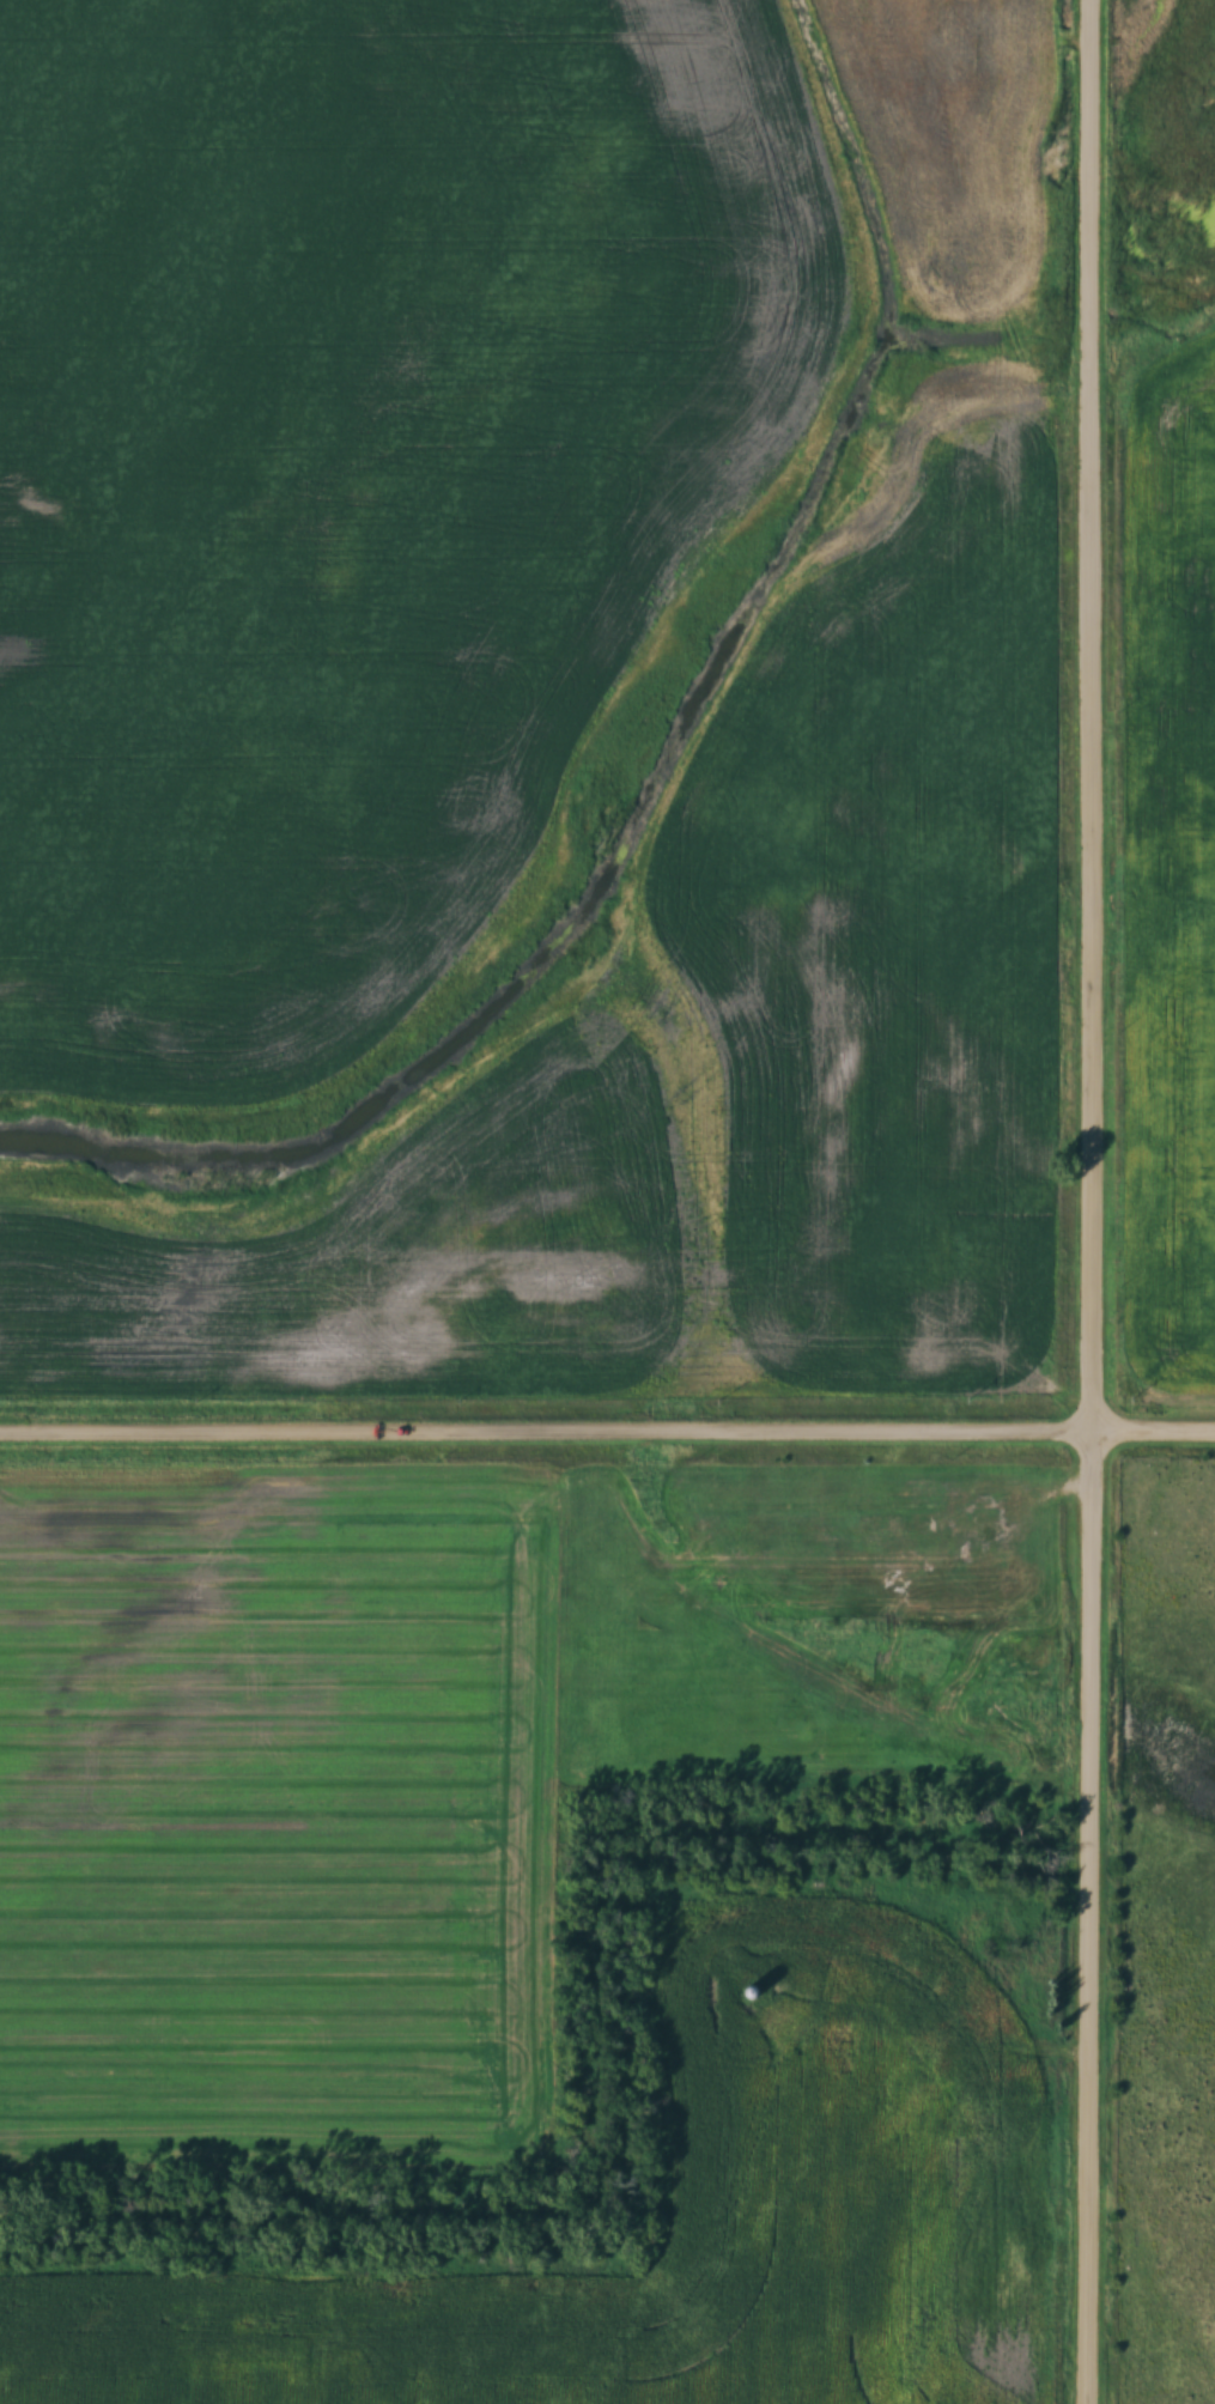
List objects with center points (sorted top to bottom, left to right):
road: (1098, 1202)
road: (607, 1433)
building: (755, 1991)

